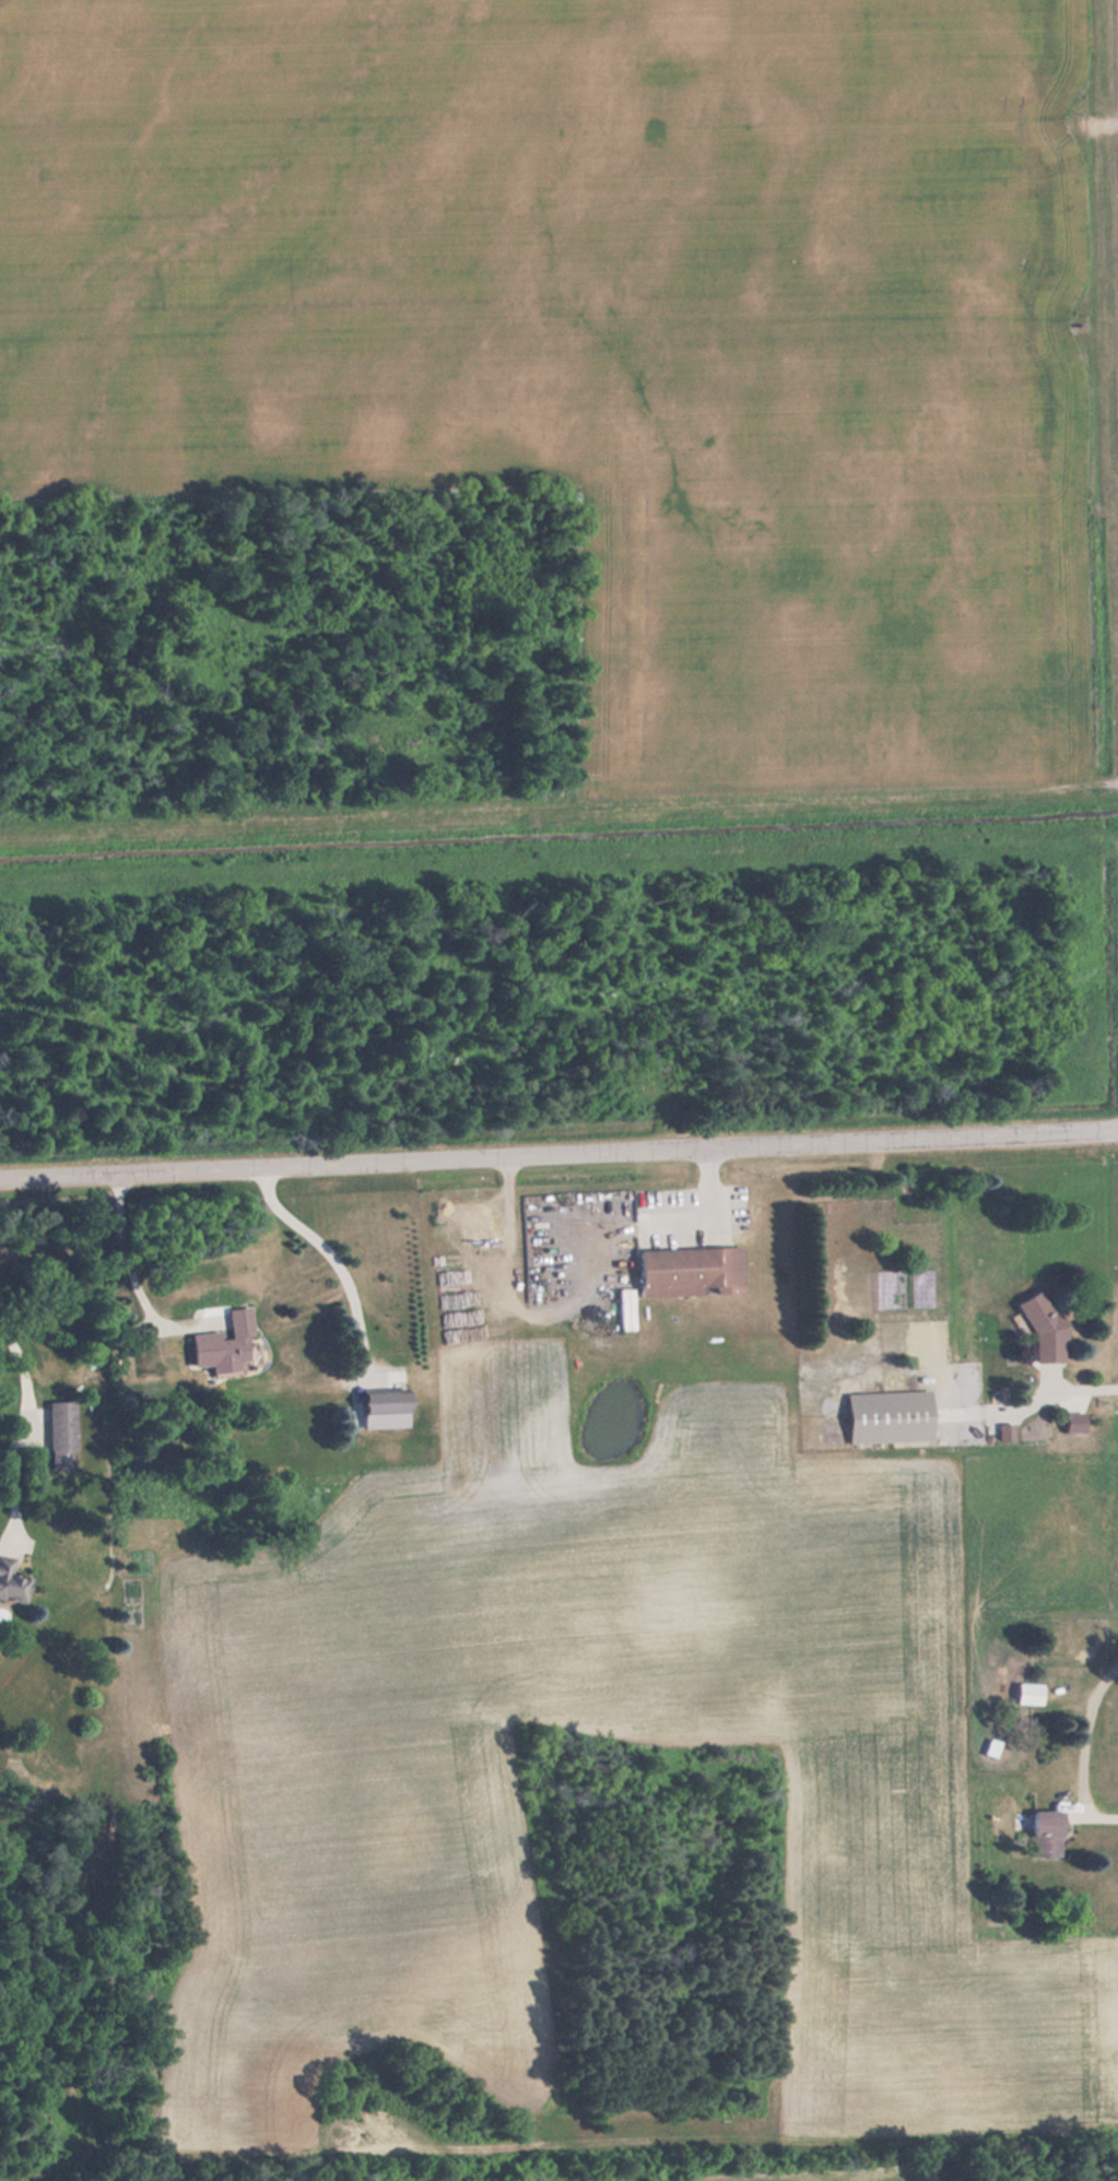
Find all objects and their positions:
park: (554, 571)
road: (558, 1155)
building: (686, 1268)
building: (624, 1306)
building: (1040, 1324)
building: (220, 1341)
road: (1055, 1390)
building: (380, 1400)
building: (888, 1413)
building: (1004, 1429)
building: (61, 1430)
building: (10, 1579)
building: (1026, 1690)
building: (1043, 1830)
park: (1029, 2164)

